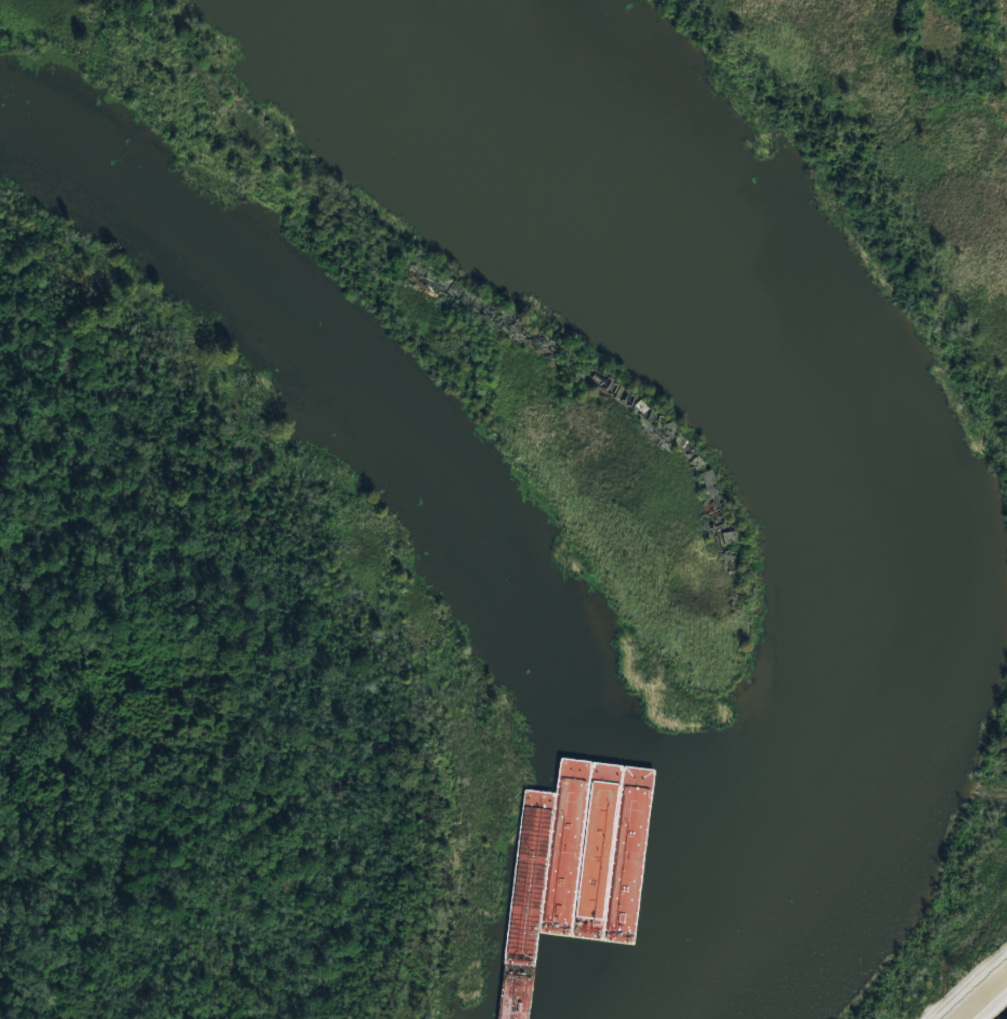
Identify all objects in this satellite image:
road: (949, 48)
river: (851, 414)

